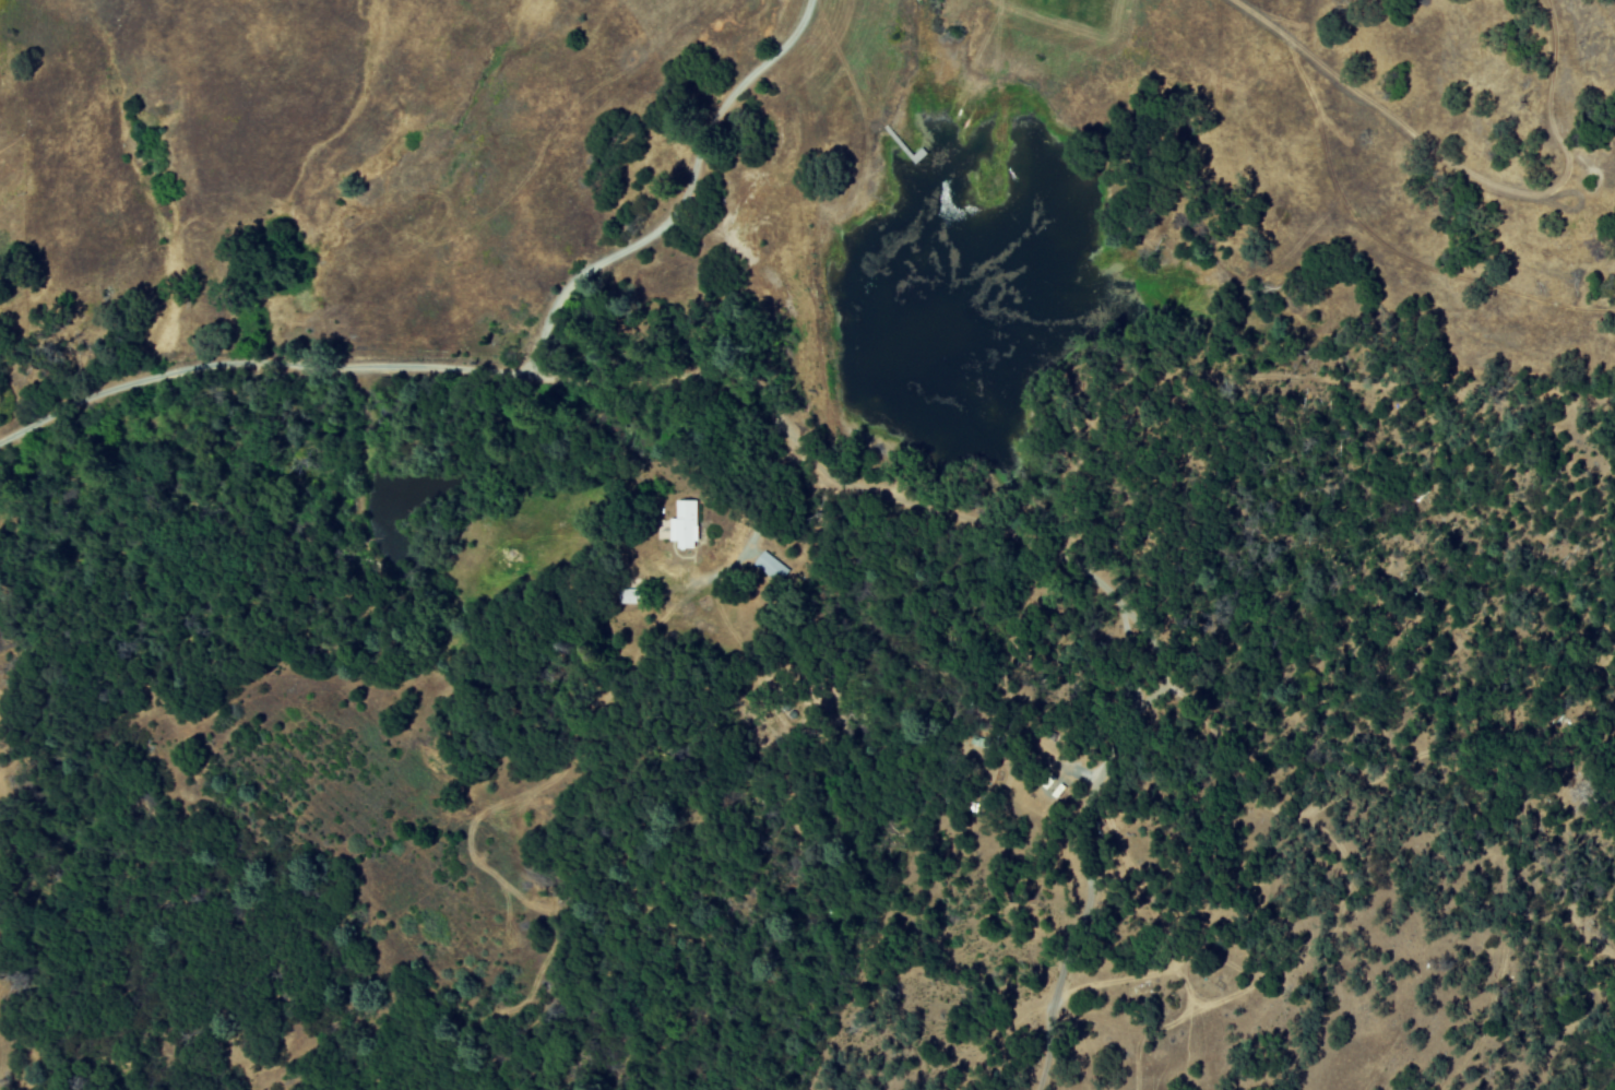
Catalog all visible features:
road: (496, 370)
building: (687, 524)
road: (757, 525)
road: (1049, 553)
building: (770, 567)
road: (81, 1048)

